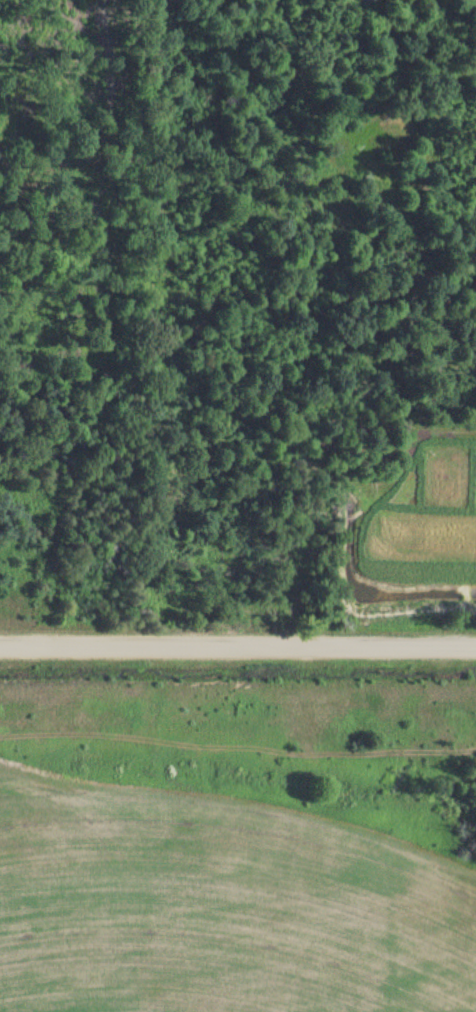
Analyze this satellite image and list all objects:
road: (238, 624)
wastewater plant: (238, 857)

